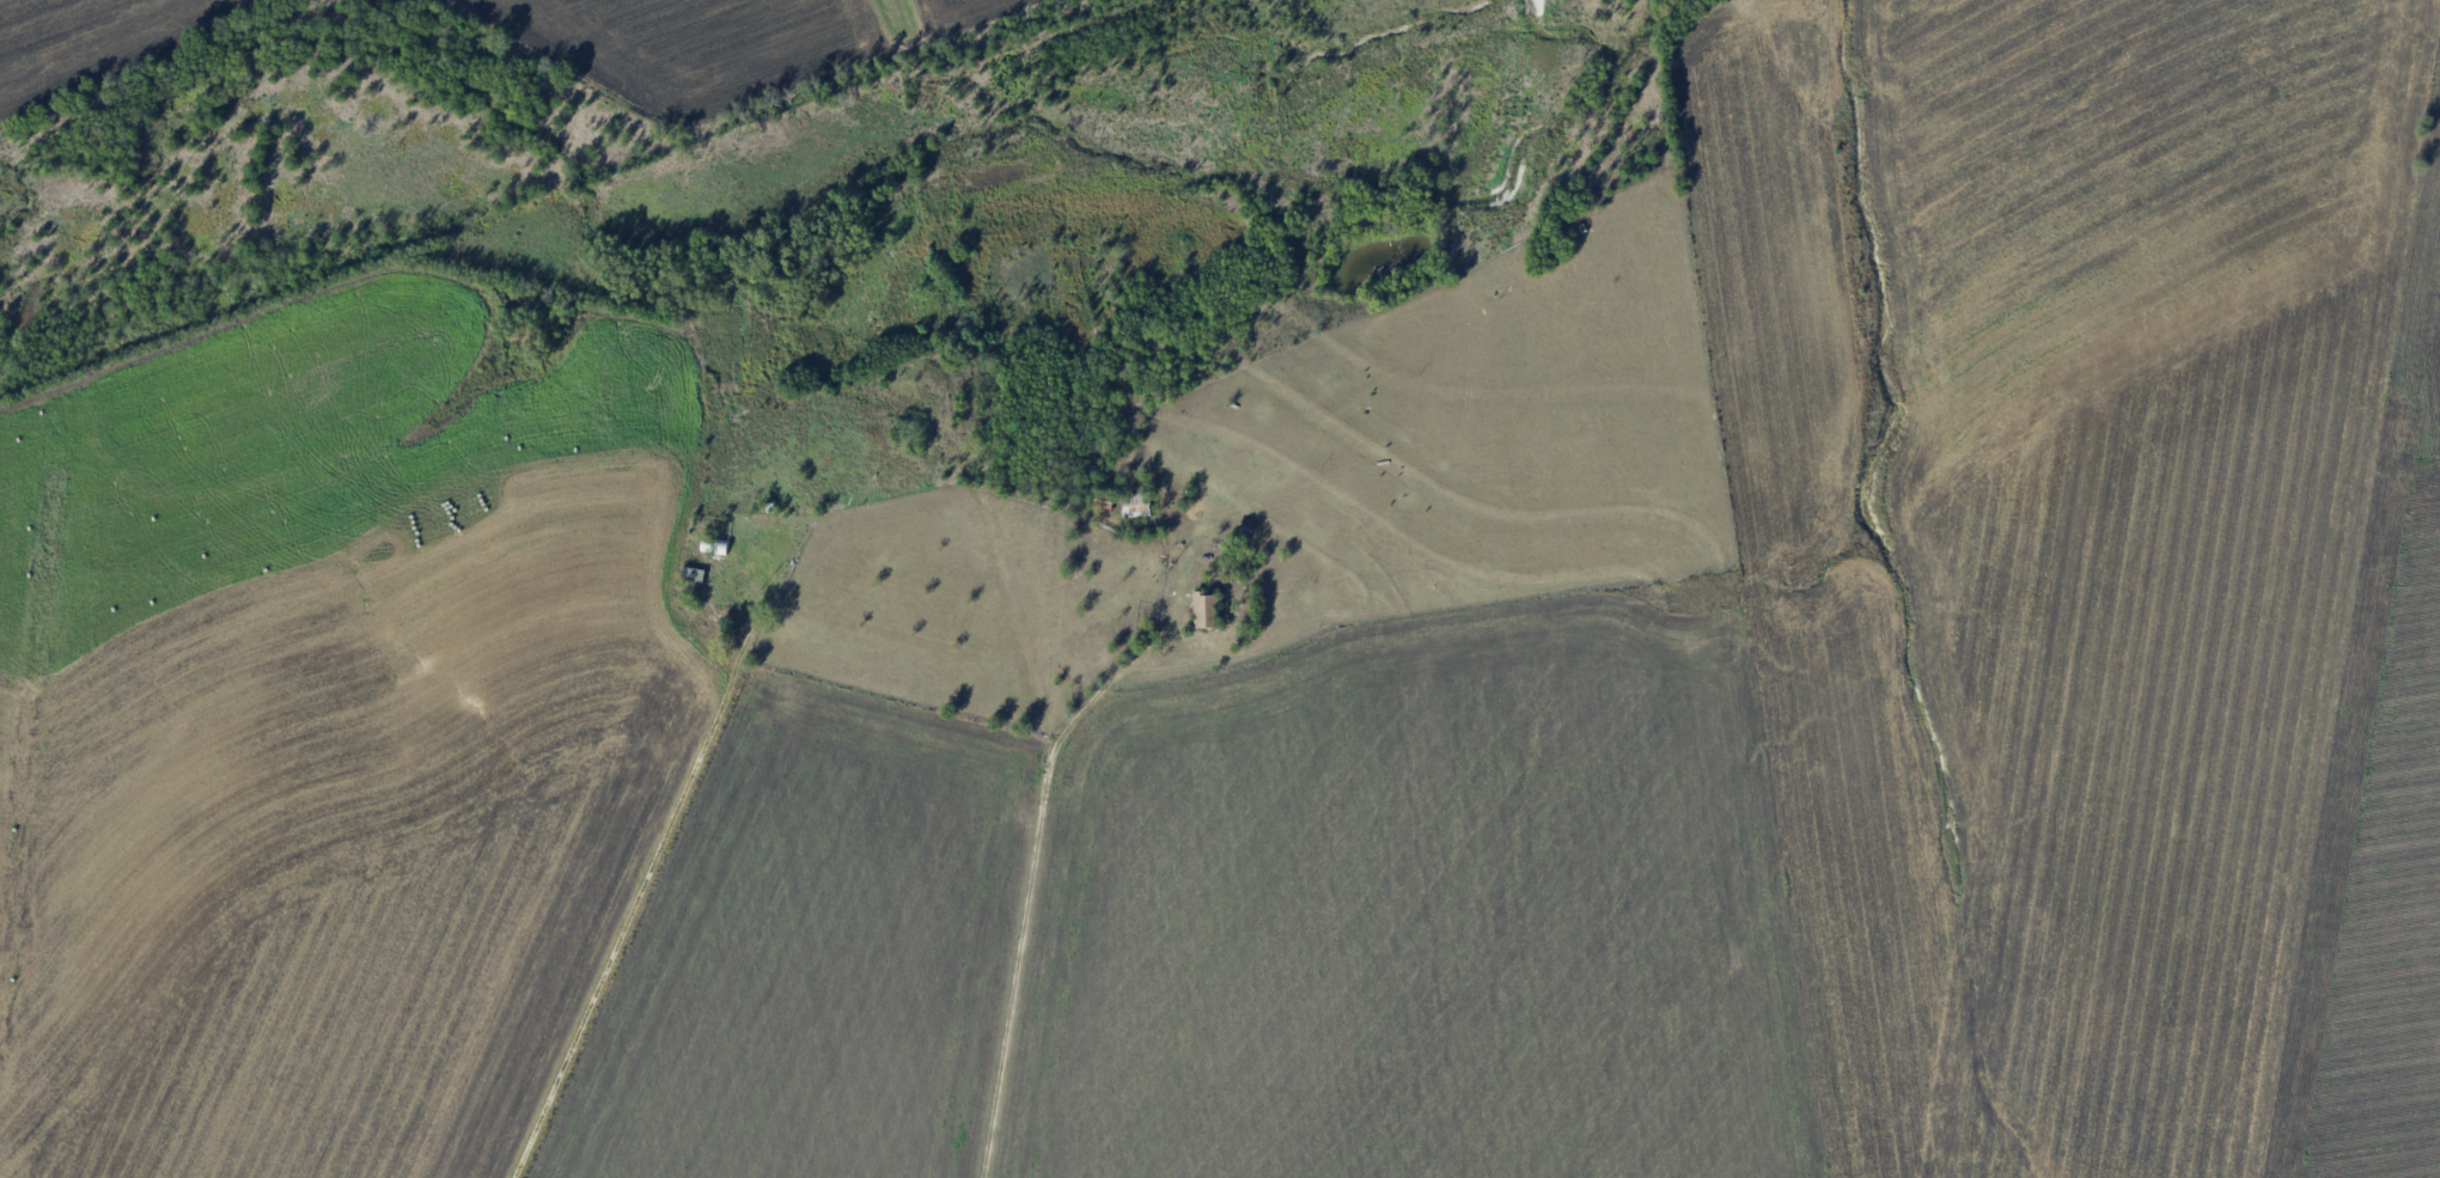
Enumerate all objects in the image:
road: (1031, 880)
road: (634, 904)

